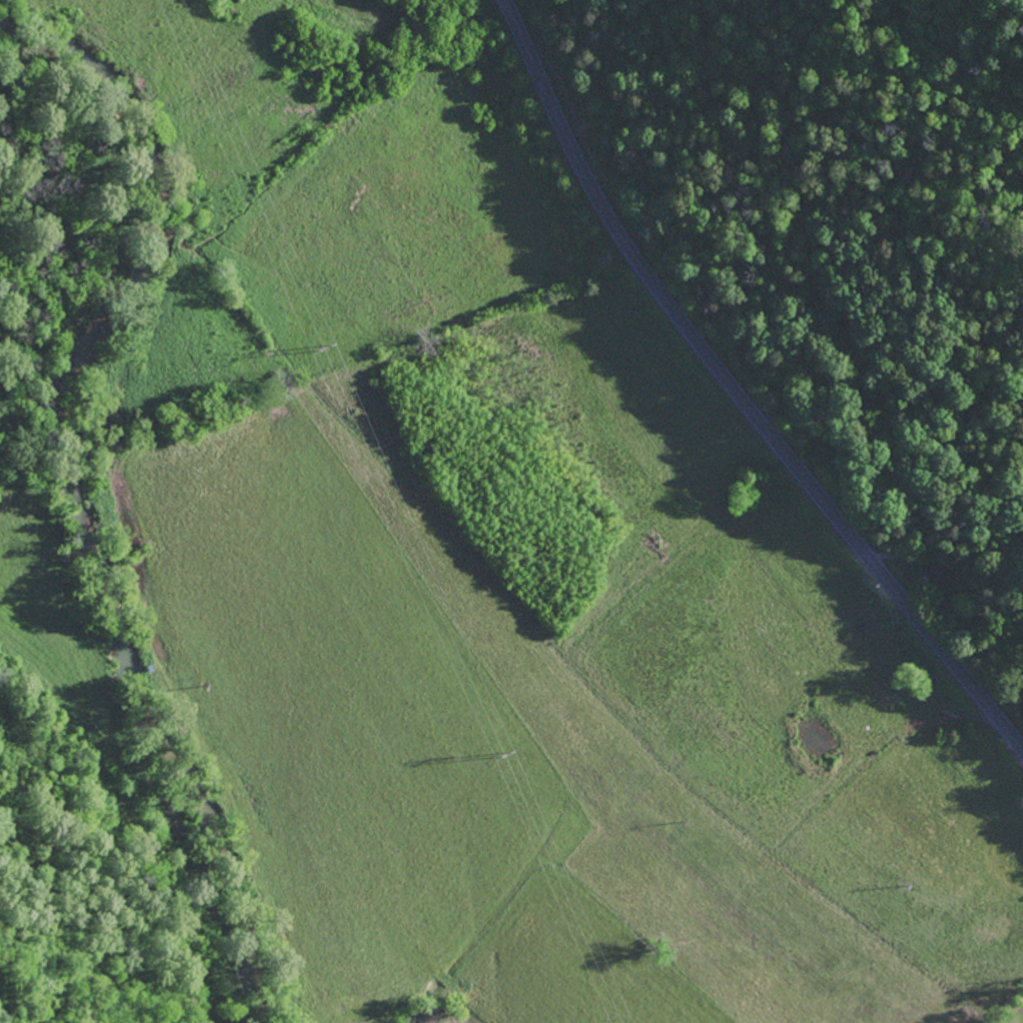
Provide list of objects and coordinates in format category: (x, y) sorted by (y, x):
power tower: (325, 347)
road: (736, 393)
power tower: (509, 755)
road: (93, 857)

